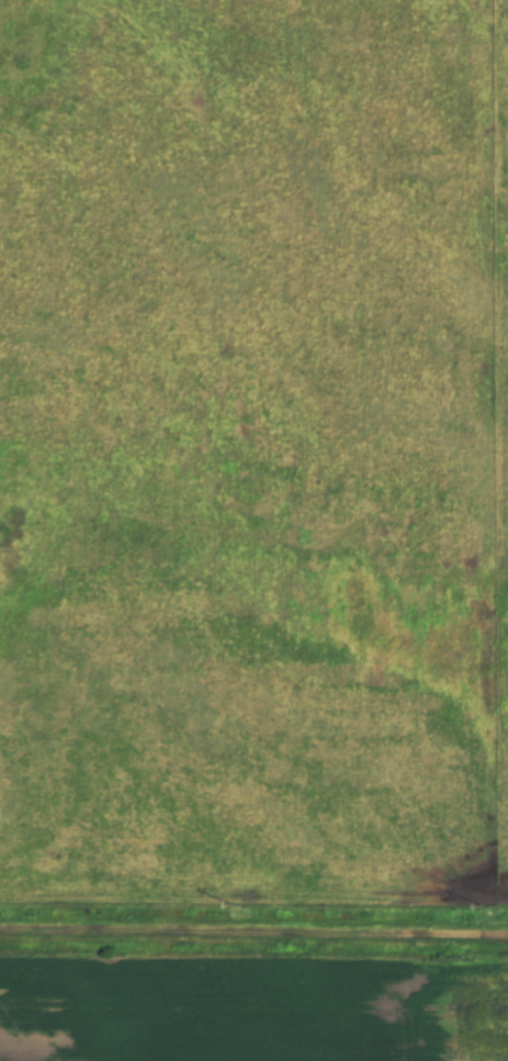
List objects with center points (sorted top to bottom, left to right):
road: (253, 928)

